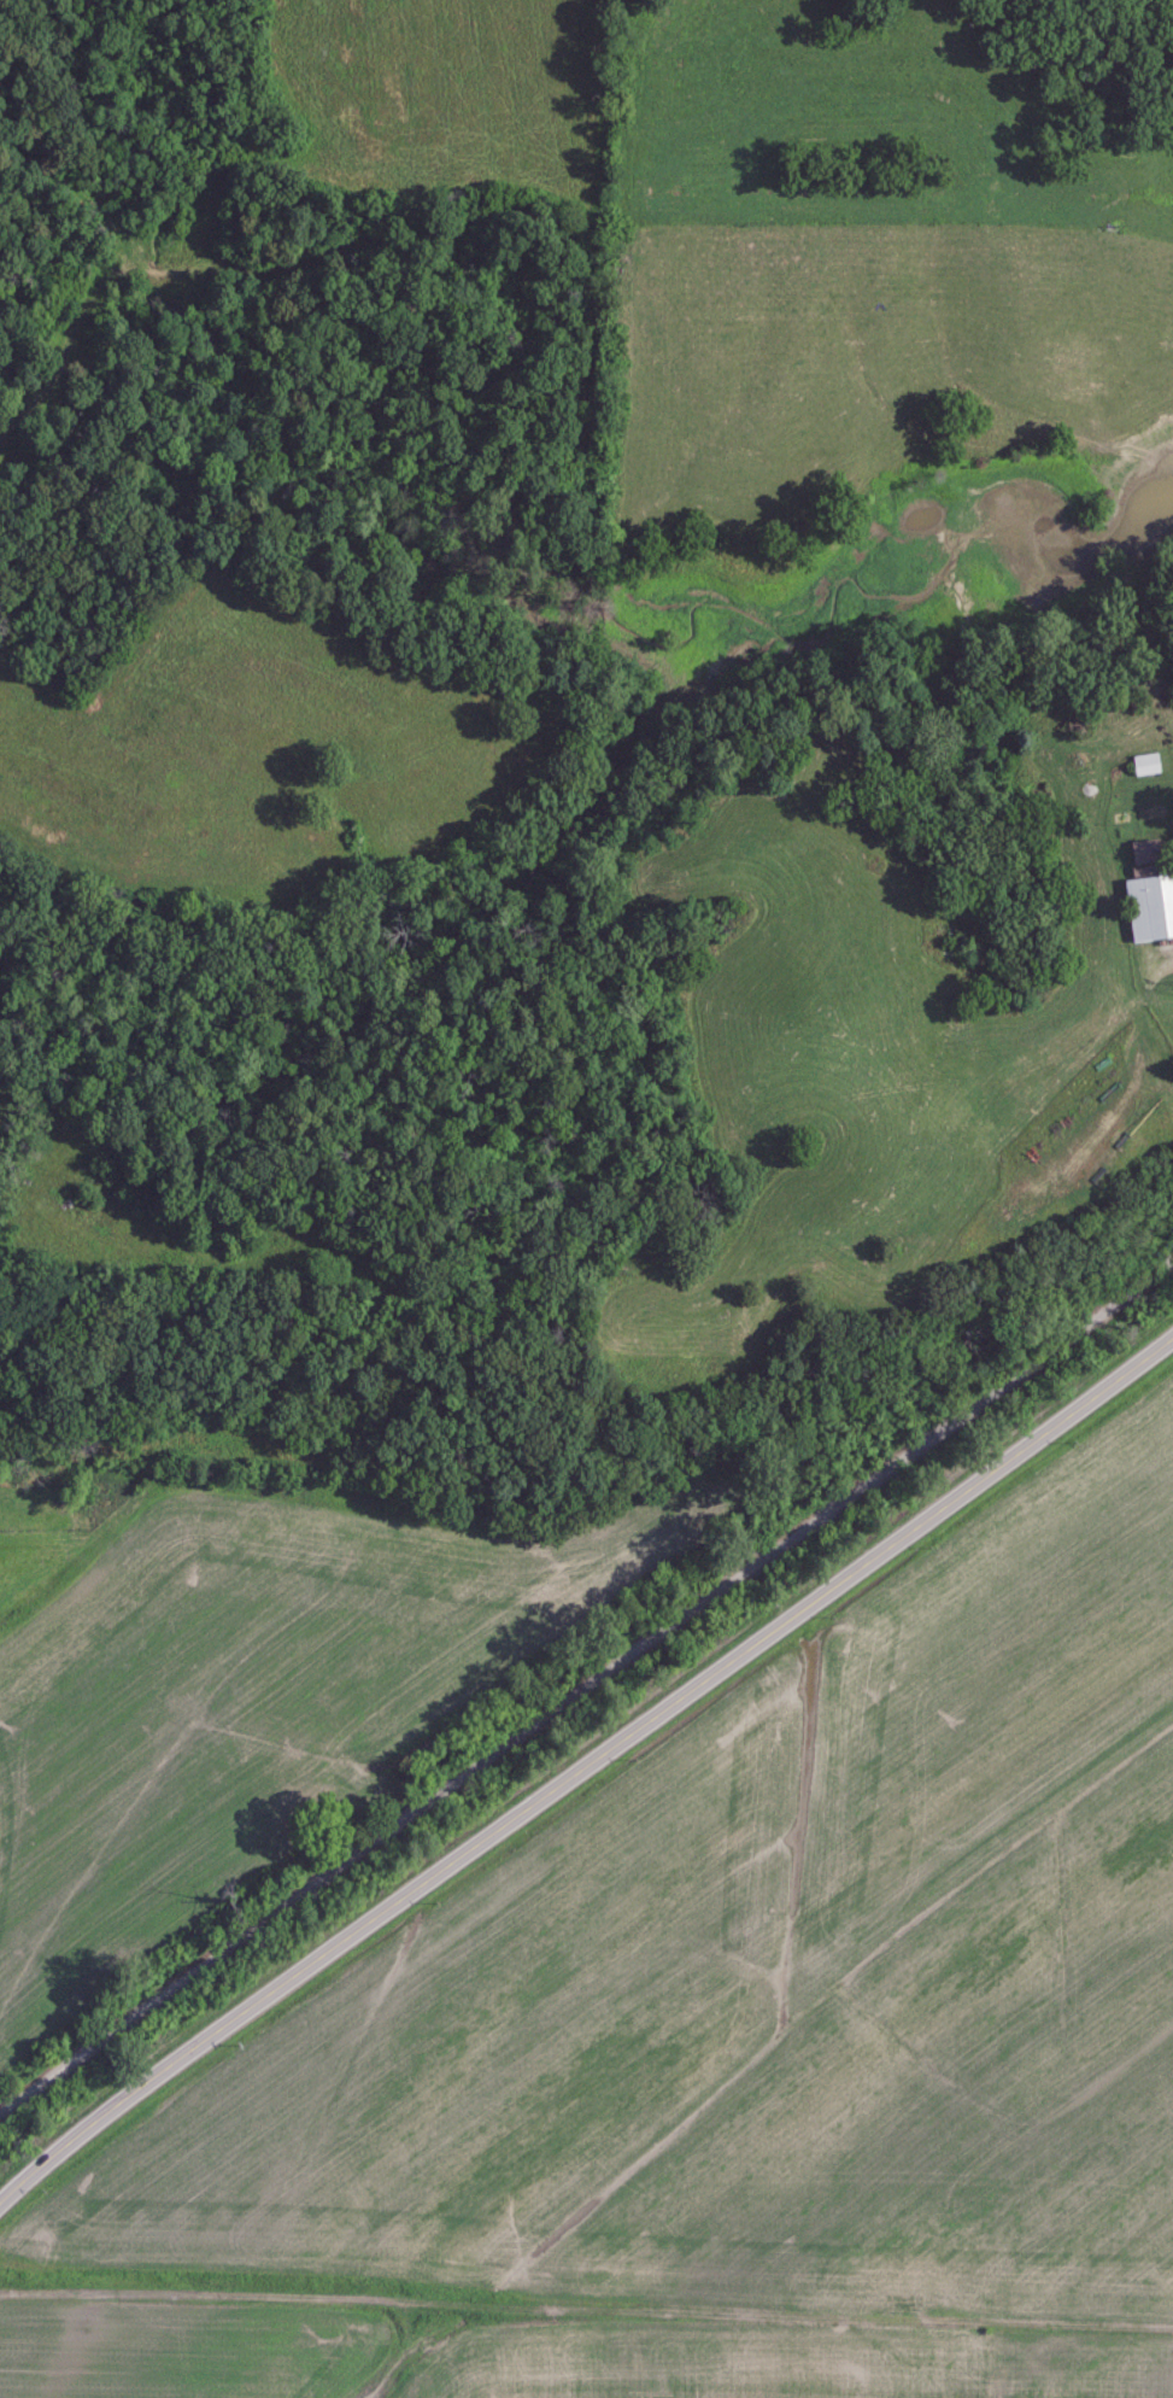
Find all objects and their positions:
building: (1143, 765)
building: (1148, 907)
road: (585, 1685)
road: (583, 1772)

